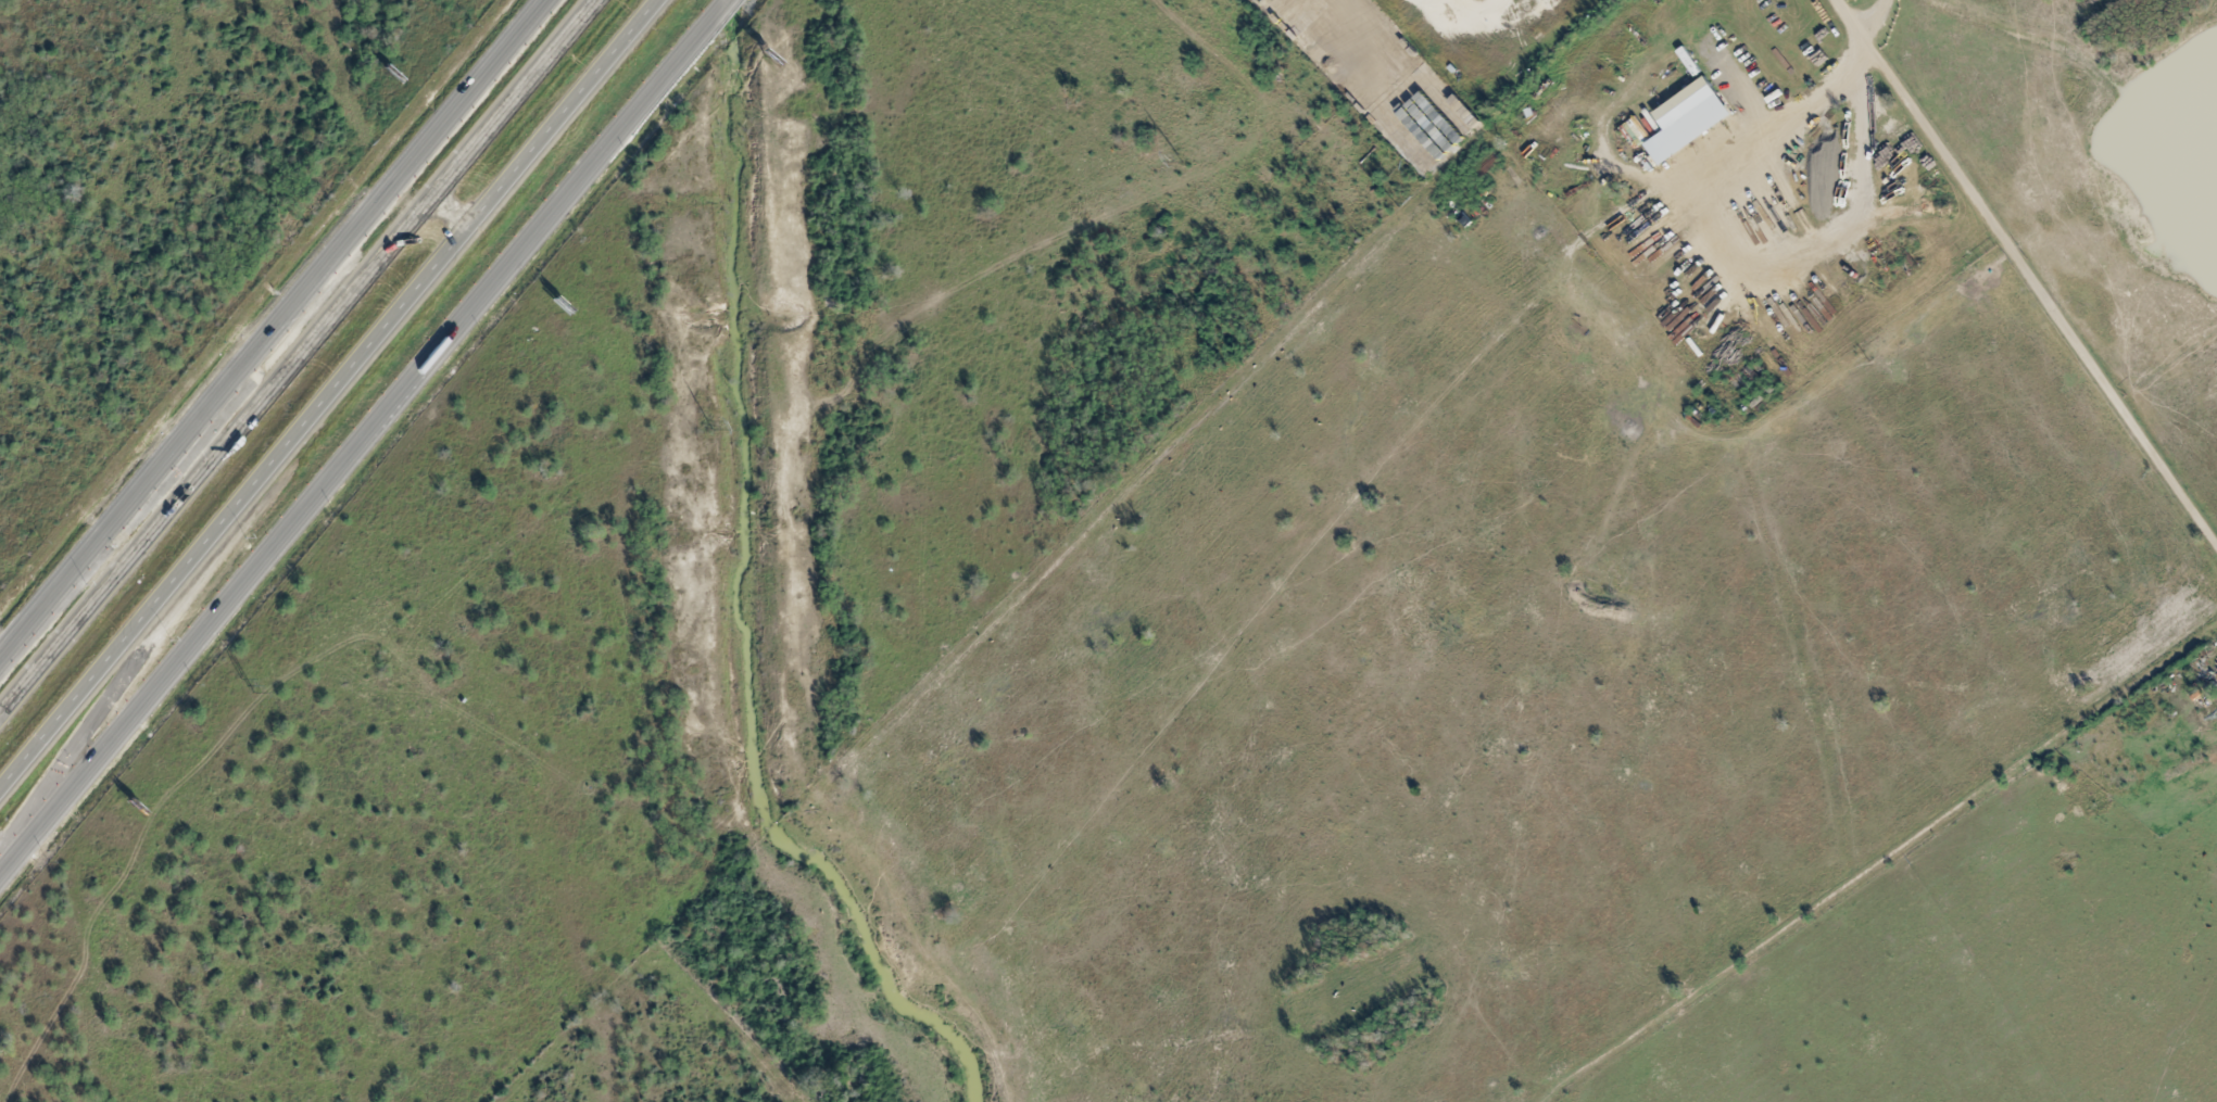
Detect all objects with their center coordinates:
road: (1875, 14)
road: (721, 18)
building: (1689, 119)
power tower: (1179, 160)
road: (2031, 265)
road: (274, 329)
road: (306, 360)
road: (272, 368)
road: (326, 398)
power tower: (707, 423)
road: (353, 459)
road: (153, 639)
power tower: (248, 685)

